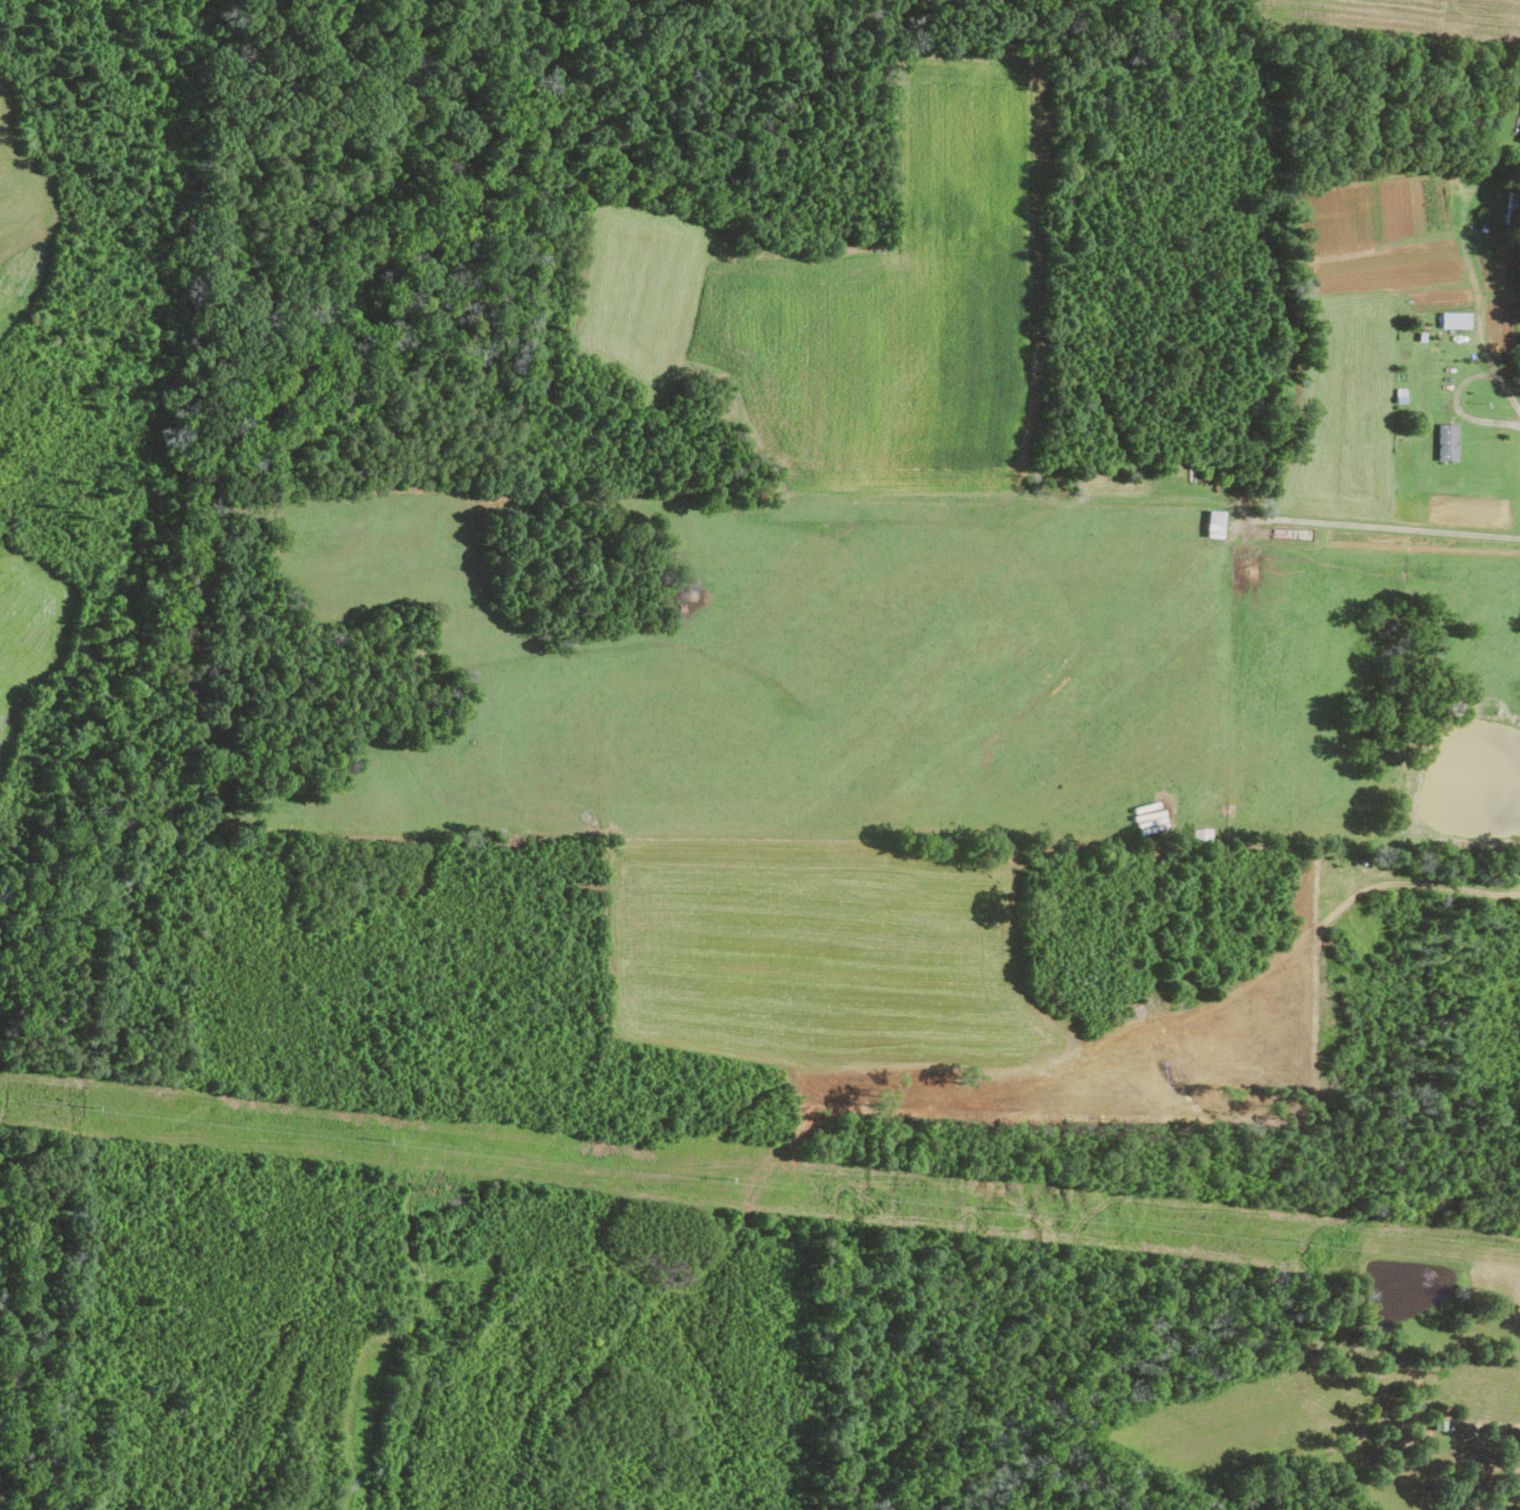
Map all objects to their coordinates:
building: (1519, 138)
building: (1456, 318)
road: (1456, 393)
road: (1519, 406)
building: (1448, 441)
building: (1215, 522)
road: (1389, 526)
building: (1200, 835)

